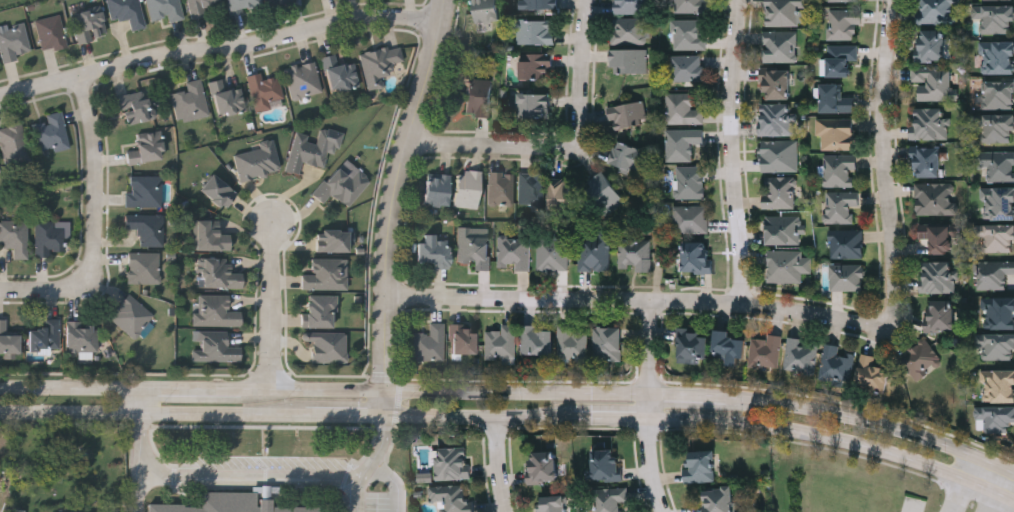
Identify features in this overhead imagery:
building: (843, 0)
building: (991, 0)
building: (278, 2)
building: (538, 4)
building: (242, 5)
building: (632, 6)
building: (693, 6)
building: (199, 7)
building: (166, 9)
building: (486, 10)
building: (783, 11)
building: (936, 11)
building: (128, 12)
building: (997, 19)
building: (845, 23)
building: (89, 25)
building: (628, 30)
building: (535, 31)
building: (51, 33)
building: (688, 34)
building: (13, 41)
building: (933, 45)
building: (780, 46)
road: (221, 50)
building: (997, 57)
building: (841, 59)
building: (629, 61)
building: (380, 64)
building: (536, 66)
building: (688, 68)
building: (340, 74)
building: (304, 80)
building: (777, 84)
building: (934, 84)
building: (265, 91)
building: (999, 94)
building: (479, 97)
building: (227, 98)
building: (835, 99)
building: (191, 102)
building: (533, 105)
building: (136, 108)
building: (682, 109)
building: (627, 115)
building: (777, 120)
building: (931, 124)
building: (997, 128)
building: (52, 133)
building: (836, 133)
building: (682, 143)
building: (15, 144)
road: (566, 145)
building: (148, 148)
building: (309, 151)
road: (733, 151)
building: (779, 155)
building: (628, 156)
building: (258, 162)
building: (928, 162)
building: (997, 164)
building: (840, 170)
road: (99, 181)
building: (690, 182)
building: (341, 186)
building: (531, 188)
building: (468, 189)
building: (438, 190)
building: (144, 191)
building: (501, 191)
building: (779, 191)
building: (218, 192)
road: (402, 192)
building: (604, 193)
building: (561, 194)
building: (937, 199)
building: (999, 203)
building: (841, 207)
building: (691, 218)
building: (147, 228)
building: (784, 229)
building: (210, 236)
building: (15, 237)
building: (50, 238)
building: (998, 238)
building: (940, 239)
building: (333, 240)
building: (847, 243)
building: (473, 248)
building: (515, 251)
building: (594, 251)
building: (434, 252)
building: (553, 254)
building: (634, 255)
building: (696, 256)
building: (788, 265)
building: (145, 267)
building: (994, 273)
building: (220, 274)
building: (326, 275)
building: (847, 277)
building: (938, 277)
road: (47, 293)
road: (275, 306)
road: (800, 310)
building: (216, 312)
building: (321, 312)
building: (998, 313)
building: (941, 315)
building: (132, 317)
building: (46, 337)
building: (83, 337)
building: (465, 340)
building: (8, 341)
building: (538, 341)
building: (573, 342)
building: (501, 343)
building: (608, 343)
building: (430, 344)
building: (693, 345)
building: (328, 346)
building: (214, 347)
building: (729, 347)
building: (996, 347)
building: (766, 351)
building: (801, 355)
building: (921, 360)
building: (838, 363)
building: (871, 373)
road: (18, 386)
building: (998, 386)
road: (89, 387)
road: (192, 388)
road: (315, 389)
road: (490, 390)
road: (142, 400)
road: (389, 402)
road: (648, 406)
road: (808, 406)
road: (18, 411)
road: (212, 413)
road: (490, 415)
building: (994, 419)
road: (808, 431)
building: (452, 462)
road: (378, 463)
road: (498, 463)
building: (606, 465)
building: (542, 466)
building: (701, 466)
building: (0, 474)
building: (425, 477)
road: (231, 479)
road: (139, 480)
road: (396, 484)
road: (965, 484)
building: (452, 497)
building: (610, 499)
building: (718, 500)
road: (996, 502)
building: (552, 503)
building: (217, 506)
building: (19, 511)

